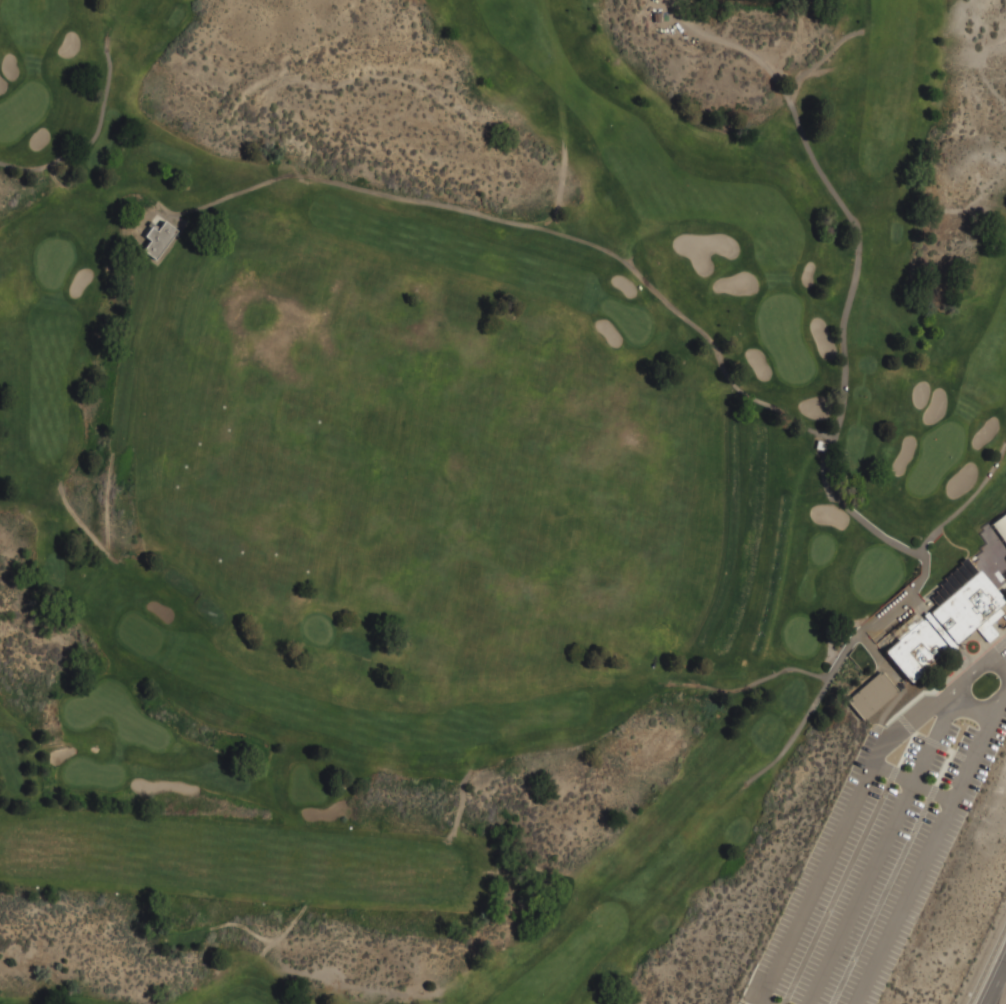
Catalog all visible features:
road: (89, 142)
road: (537, 227)
building: (159, 239)
road: (834, 490)
park: (501, 500)
road: (967, 502)
building: (1000, 527)
building: (948, 626)
road: (971, 673)
building: (871, 695)
road: (909, 704)
road: (975, 710)
road: (912, 720)
road: (618, 727)
road: (927, 740)
road: (913, 783)
road: (928, 849)
road: (877, 855)
parking lot: (876, 860)
road: (848, 867)
road: (822, 871)
road: (891, 878)
road: (986, 963)
road: (996, 982)
road: (763, 1002)

